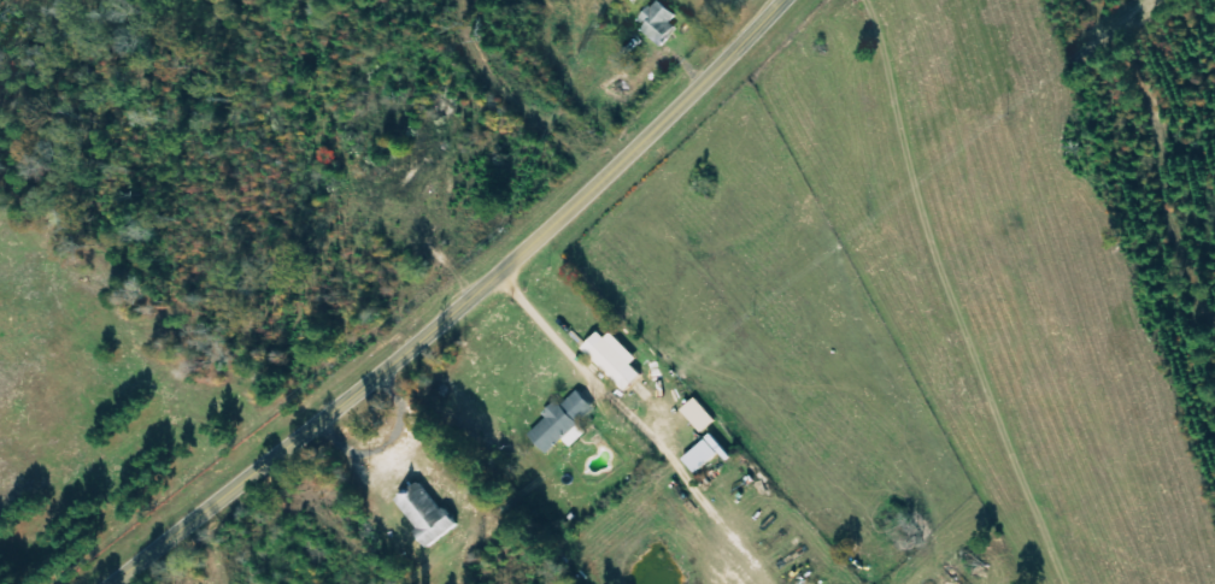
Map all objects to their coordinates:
building: (663, 23)
road: (530, 85)
road: (462, 307)
road: (547, 330)
building: (610, 359)
road: (465, 413)
building: (559, 423)
building: (700, 454)
road: (527, 503)
building: (422, 514)

